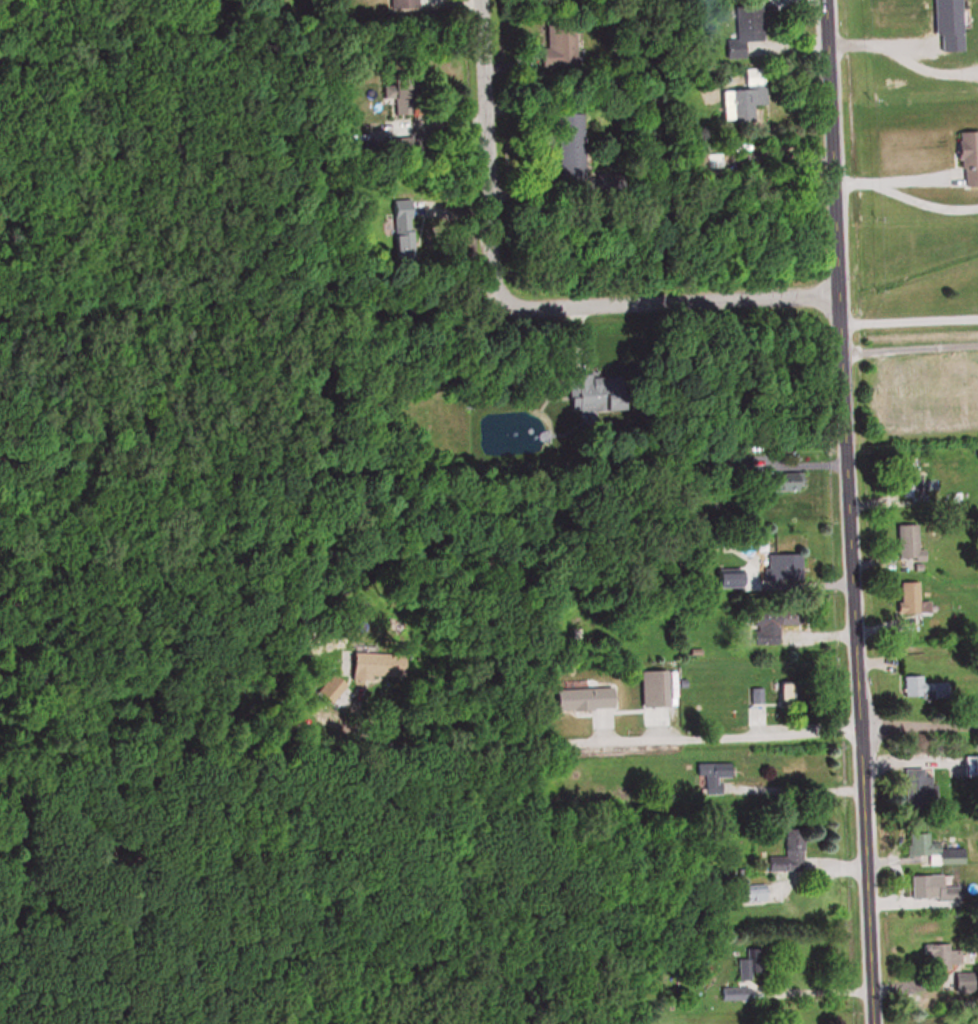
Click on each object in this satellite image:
building: (400, 4)
building: (741, 34)
building: (555, 46)
building: (742, 104)
building: (568, 145)
road: (485, 153)
building: (965, 160)
building: (693, 161)
road: (891, 179)
building: (399, 229)
road: (669, 303)
road: (908, 323)
road: (908, 347)
building: (590, 395)
building: (736, 465)
building: (907, 480)
building: (777, 484)
road: (844, 511)
building: (907, 544)
building: (780, 568)
building: (907, 600)
building: (767, 627)
building: (917, 685)
building: (649, 689)
building: (577, 697)
road: (915, 727)
road: (617, 739)
building: (710, 775)
building: (912, 784)
road: (792, 786)
road: (909, 825)
building: (928, 847)
building: (785, 857)
road: (898, 877)
building: (926, 887)
road: (901, 902)
building: (936, 955)
road: (809, 989)
building: (731, 994)

